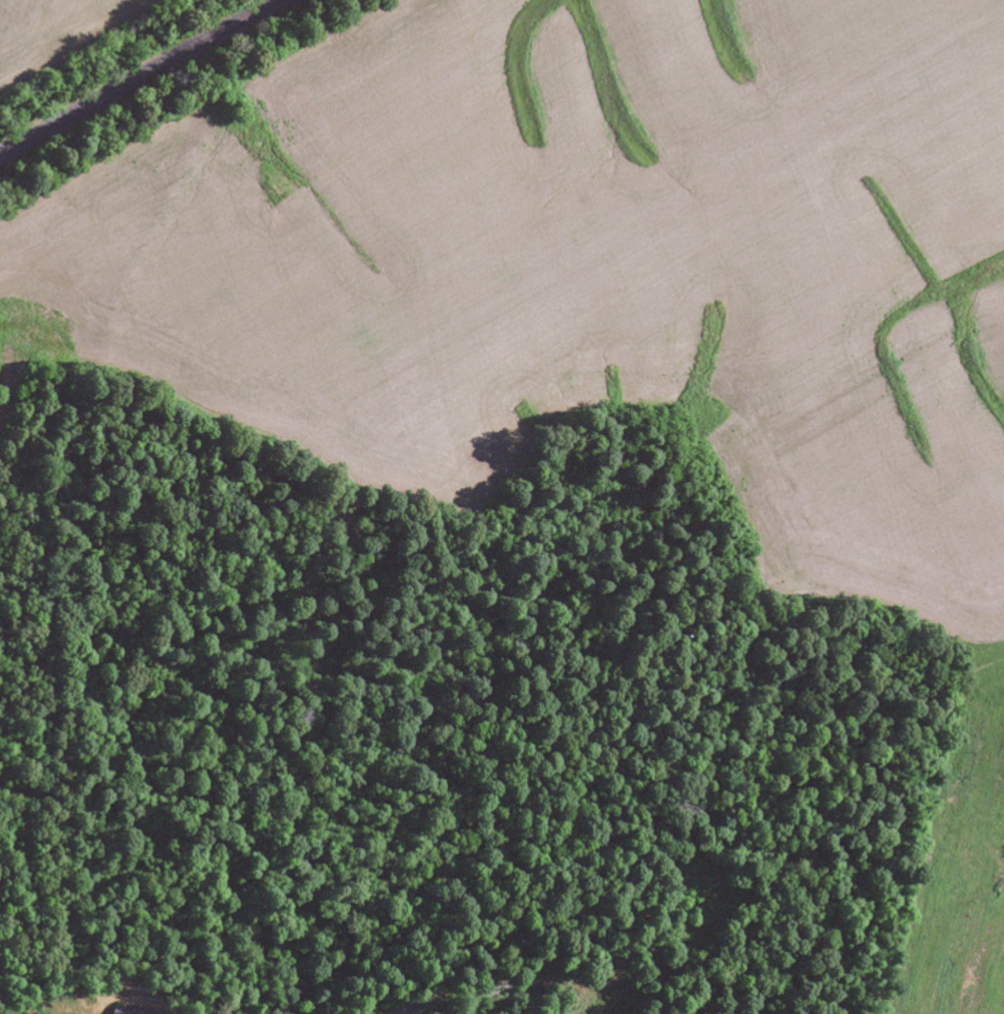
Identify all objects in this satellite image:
railway: (139, 77)

